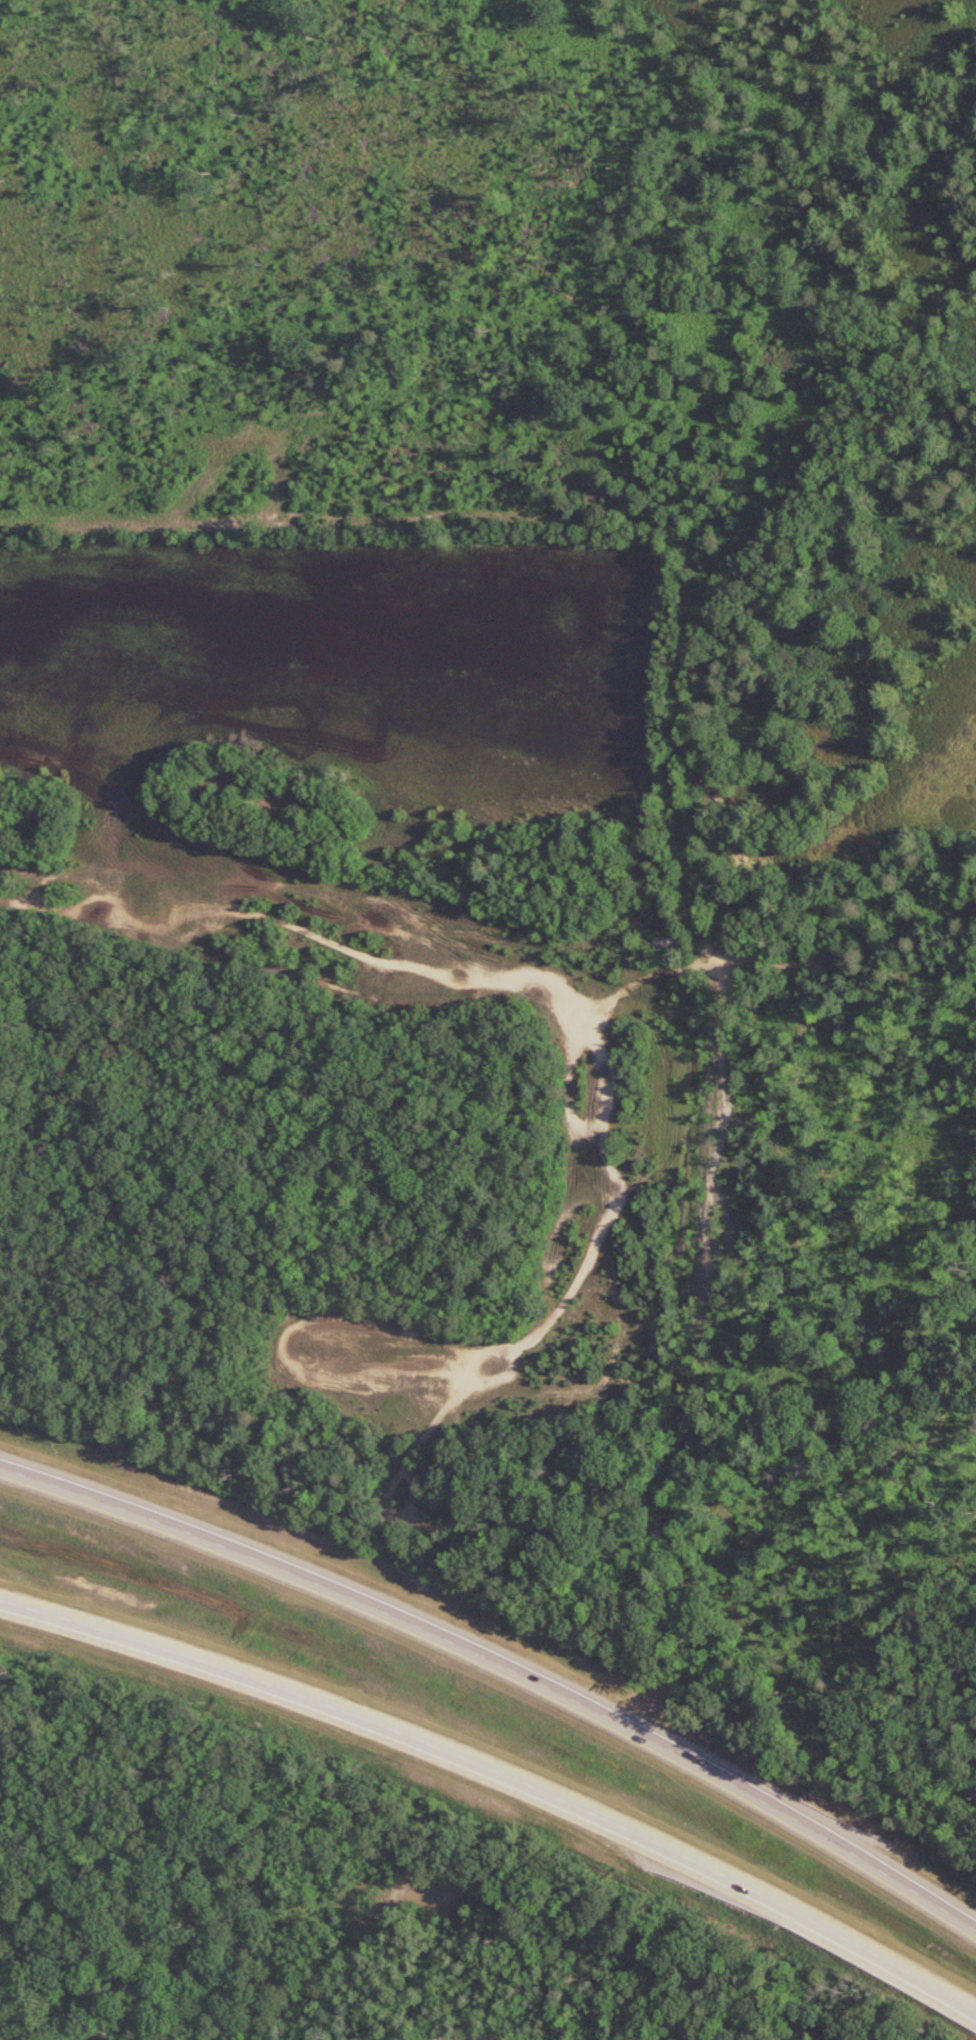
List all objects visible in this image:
road: (587, 995)
road: (503, 1666)
road: (501, 1774)
road: (282, 1837)
road: (226, 1990)
parking lot: (477, 2035)

